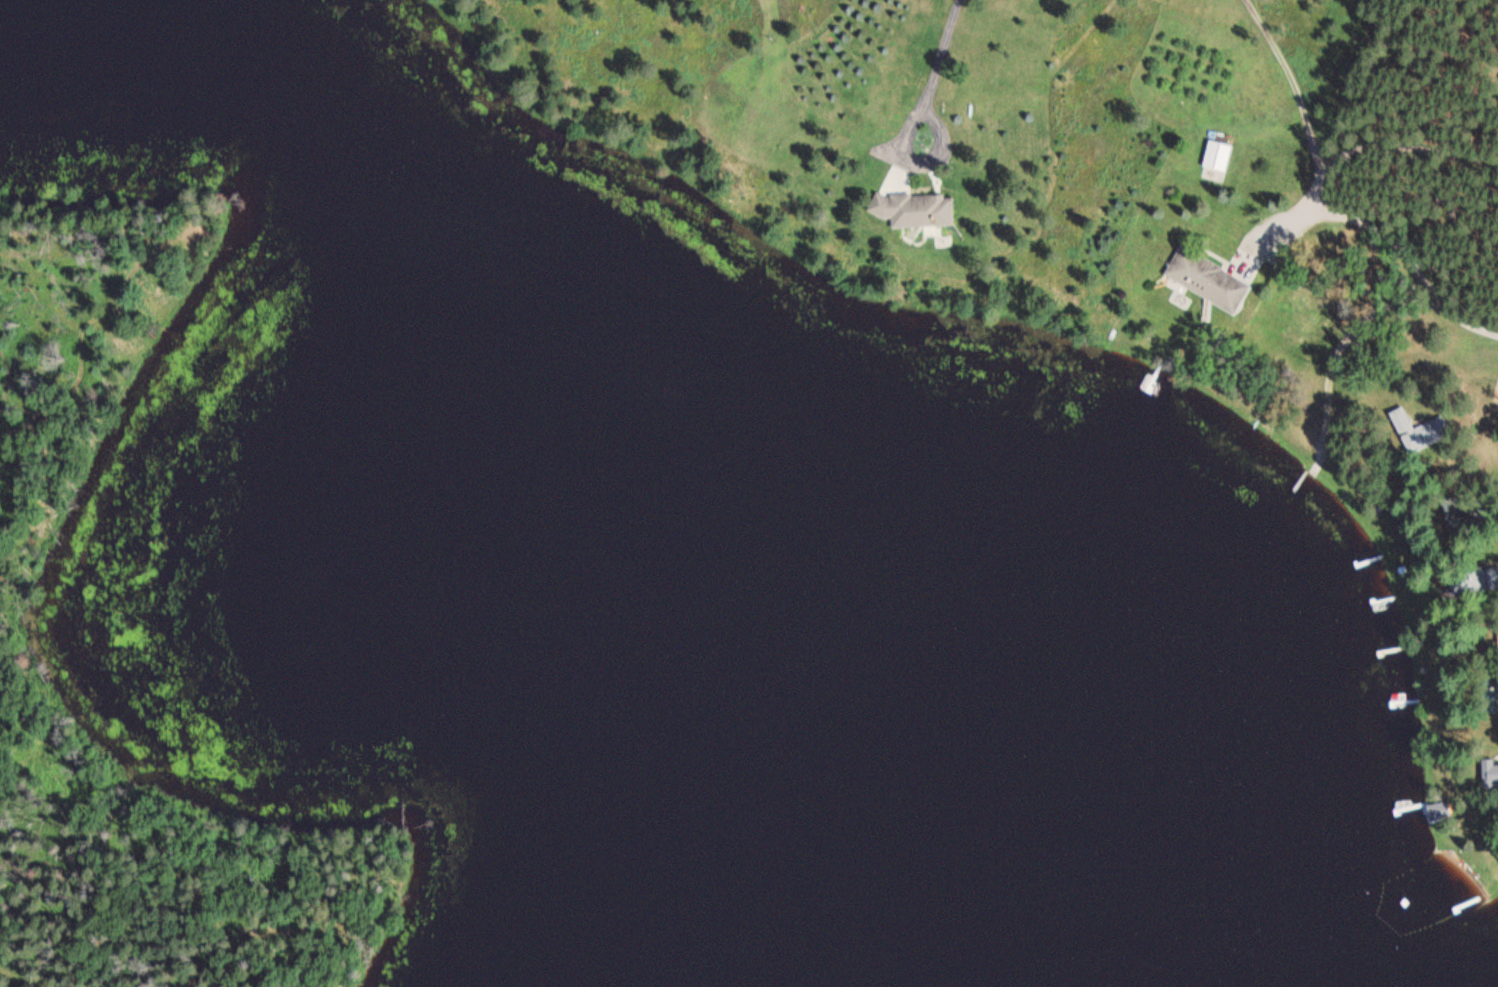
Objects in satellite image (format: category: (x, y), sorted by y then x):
building: (1218, 155)
building: (916, 208)
building: (1208, 279)
building: (1406, 428)
building: (1436, 810)

